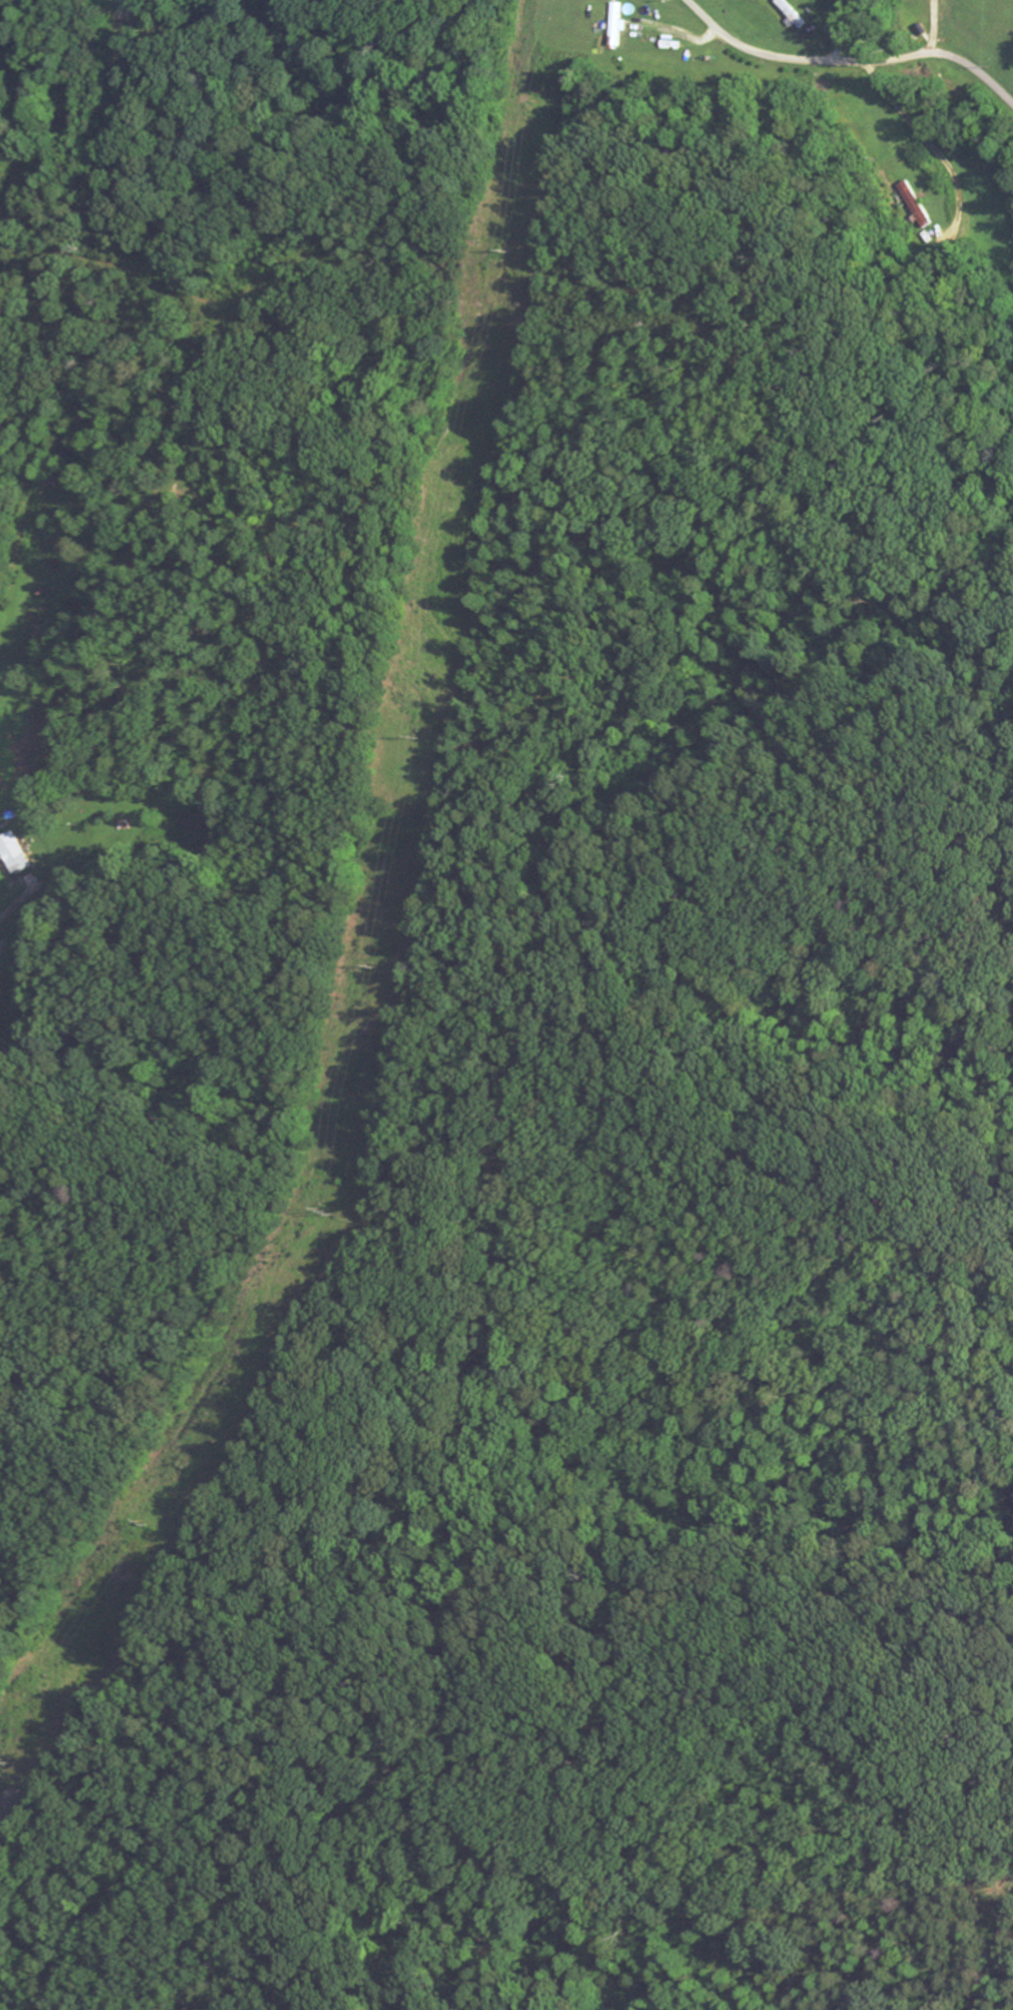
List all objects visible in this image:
building: (792, 15)
building: (618, 26)
road: (850, 64)
road: (917, 131)
building: (917, 207)
power tower: (517, 249)
power tower: (419, 737)
building: (14, 855)
power tower: (371, 968)
power tower: (329, 1211)
power tower: (144, 1523)
road: (43, 1581)
power tower: (4, 1759)

